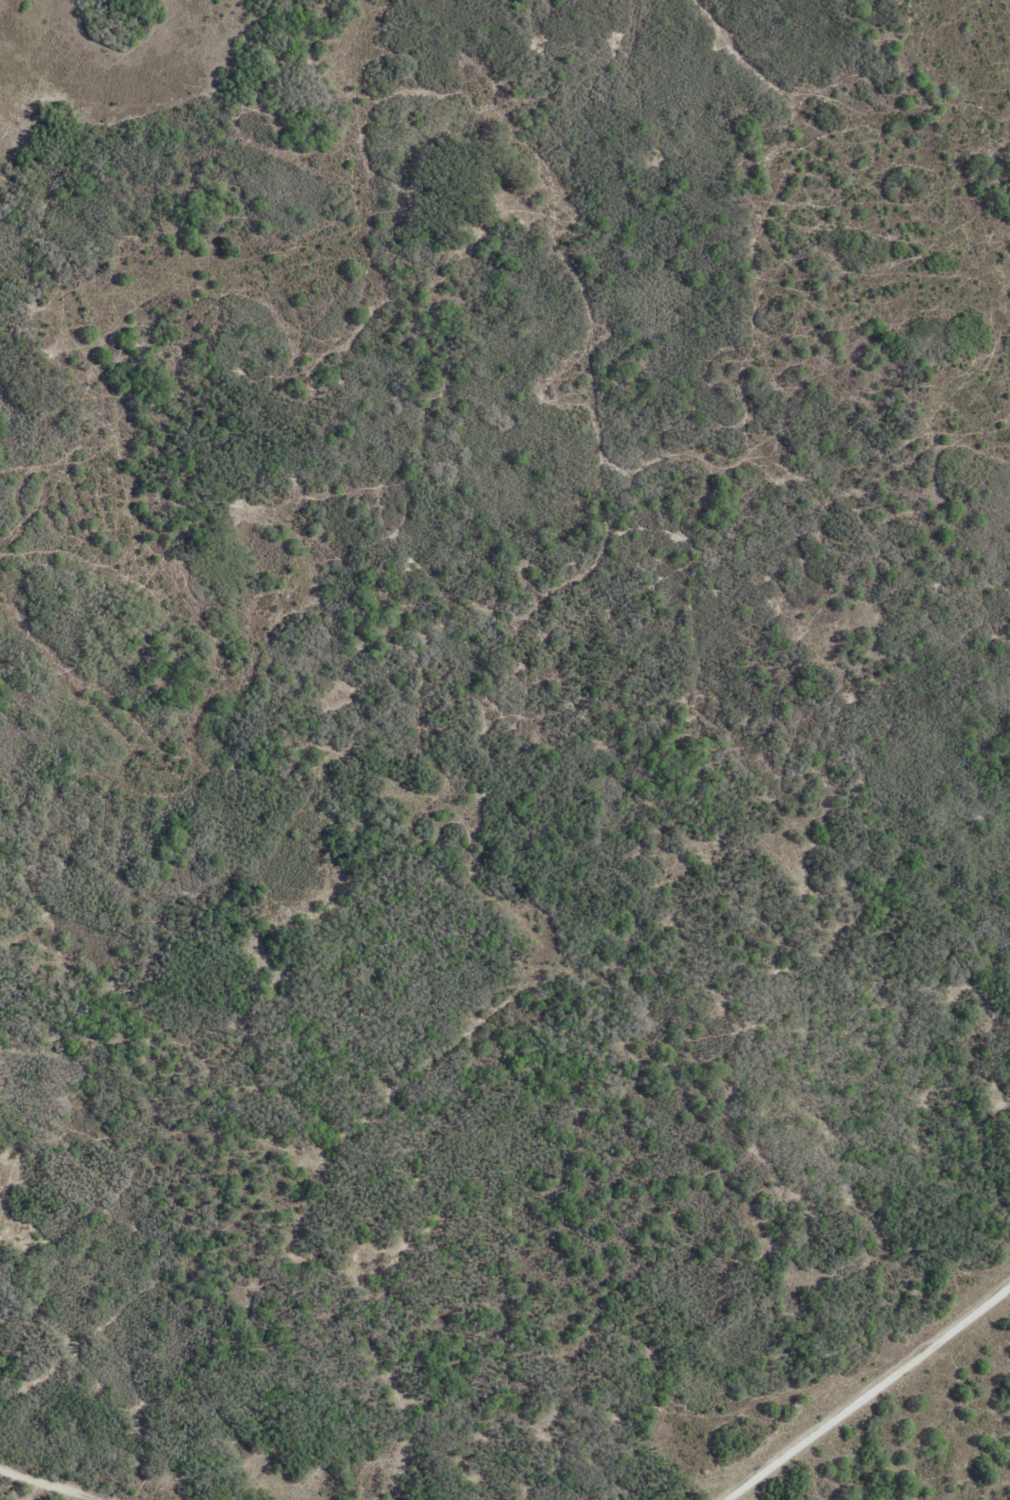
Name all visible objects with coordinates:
road: (873, 1396)
road: (15, 1451)

